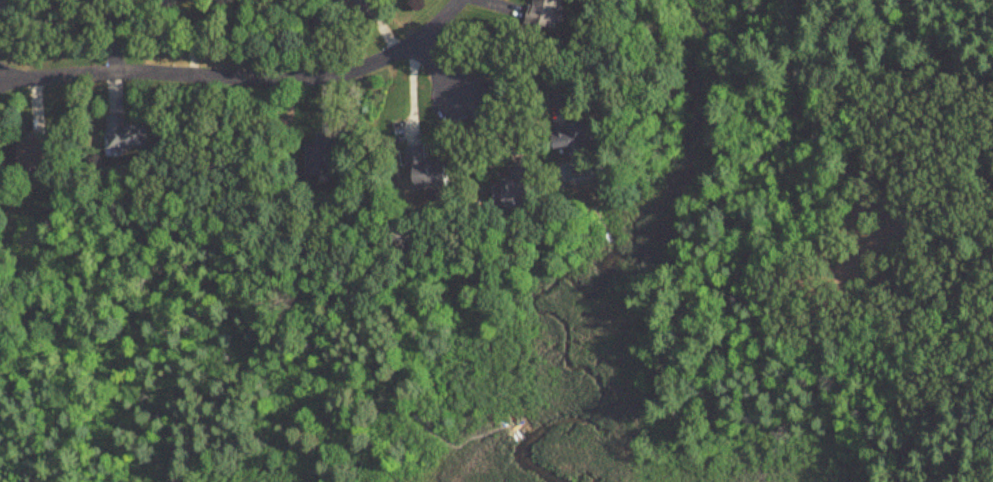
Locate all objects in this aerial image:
building: (2, 2)
building: (358, 4)
building: (548, 13)
road: (403, 44)
road: (989, 51)
road: (153, 73)
road: (442, 74)
road: (323, 77)
road: (516, 81)
building: (124, 136)
building: (578, 136)
building: (35, 154)
building: (319, 159)
building: (429, 169)
building: (518, 191)

